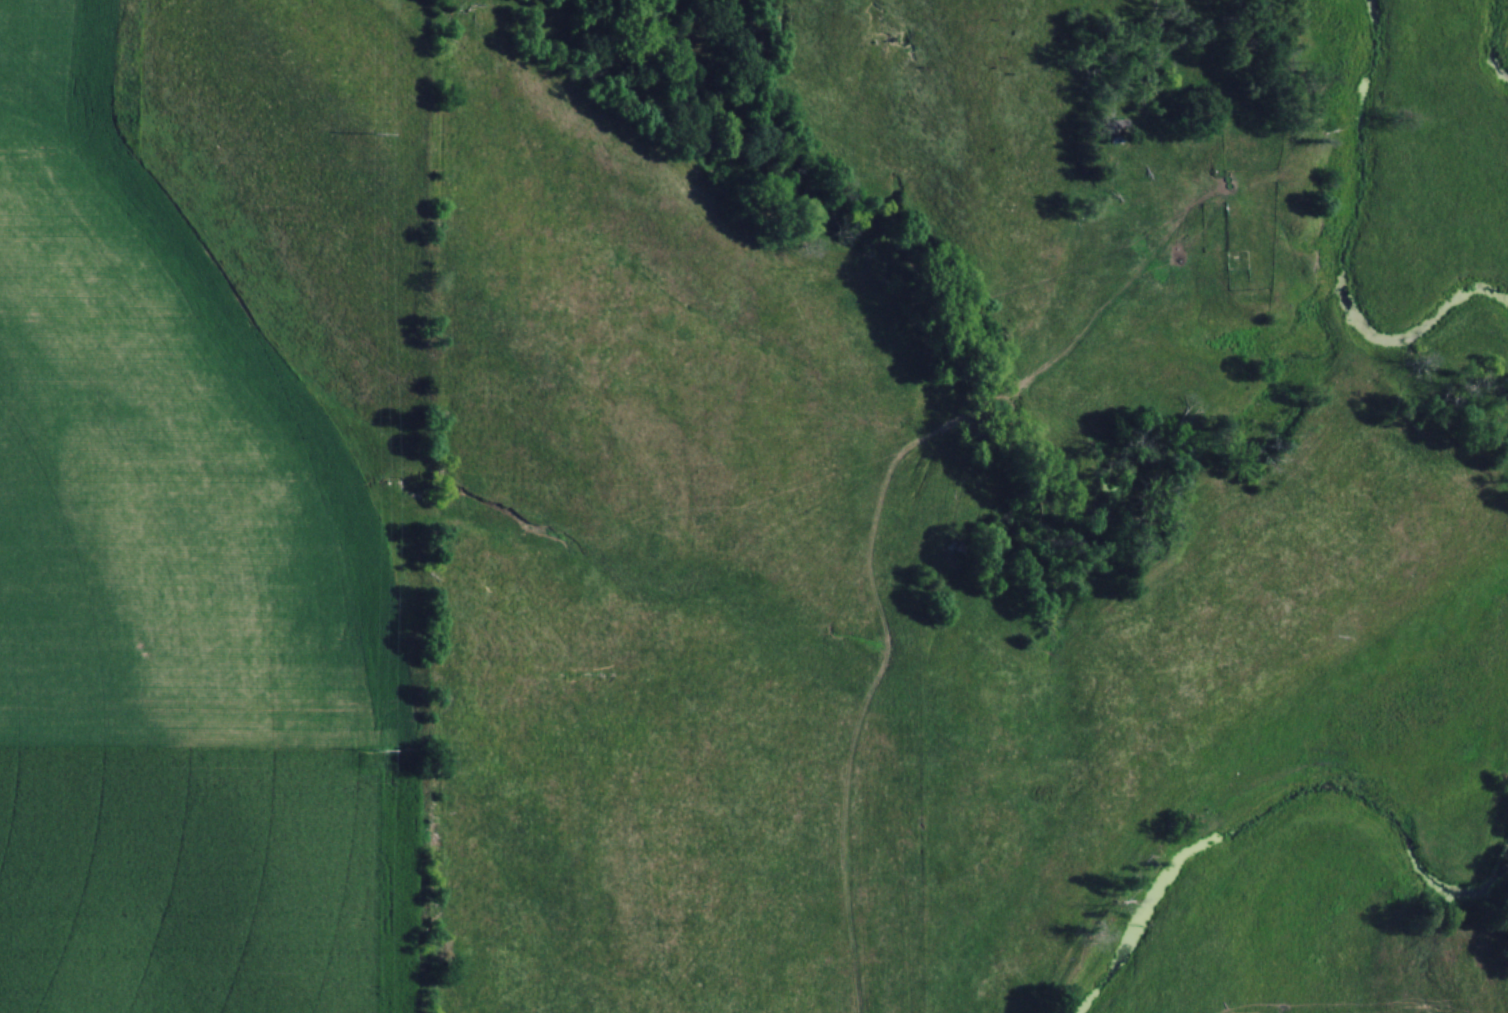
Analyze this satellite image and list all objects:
river: (1492, 41)
building: (1116, 131)
power tower: (372, 134)
river: (1342, 249)
power tower: (374, 752)
river: (1282, 803)

